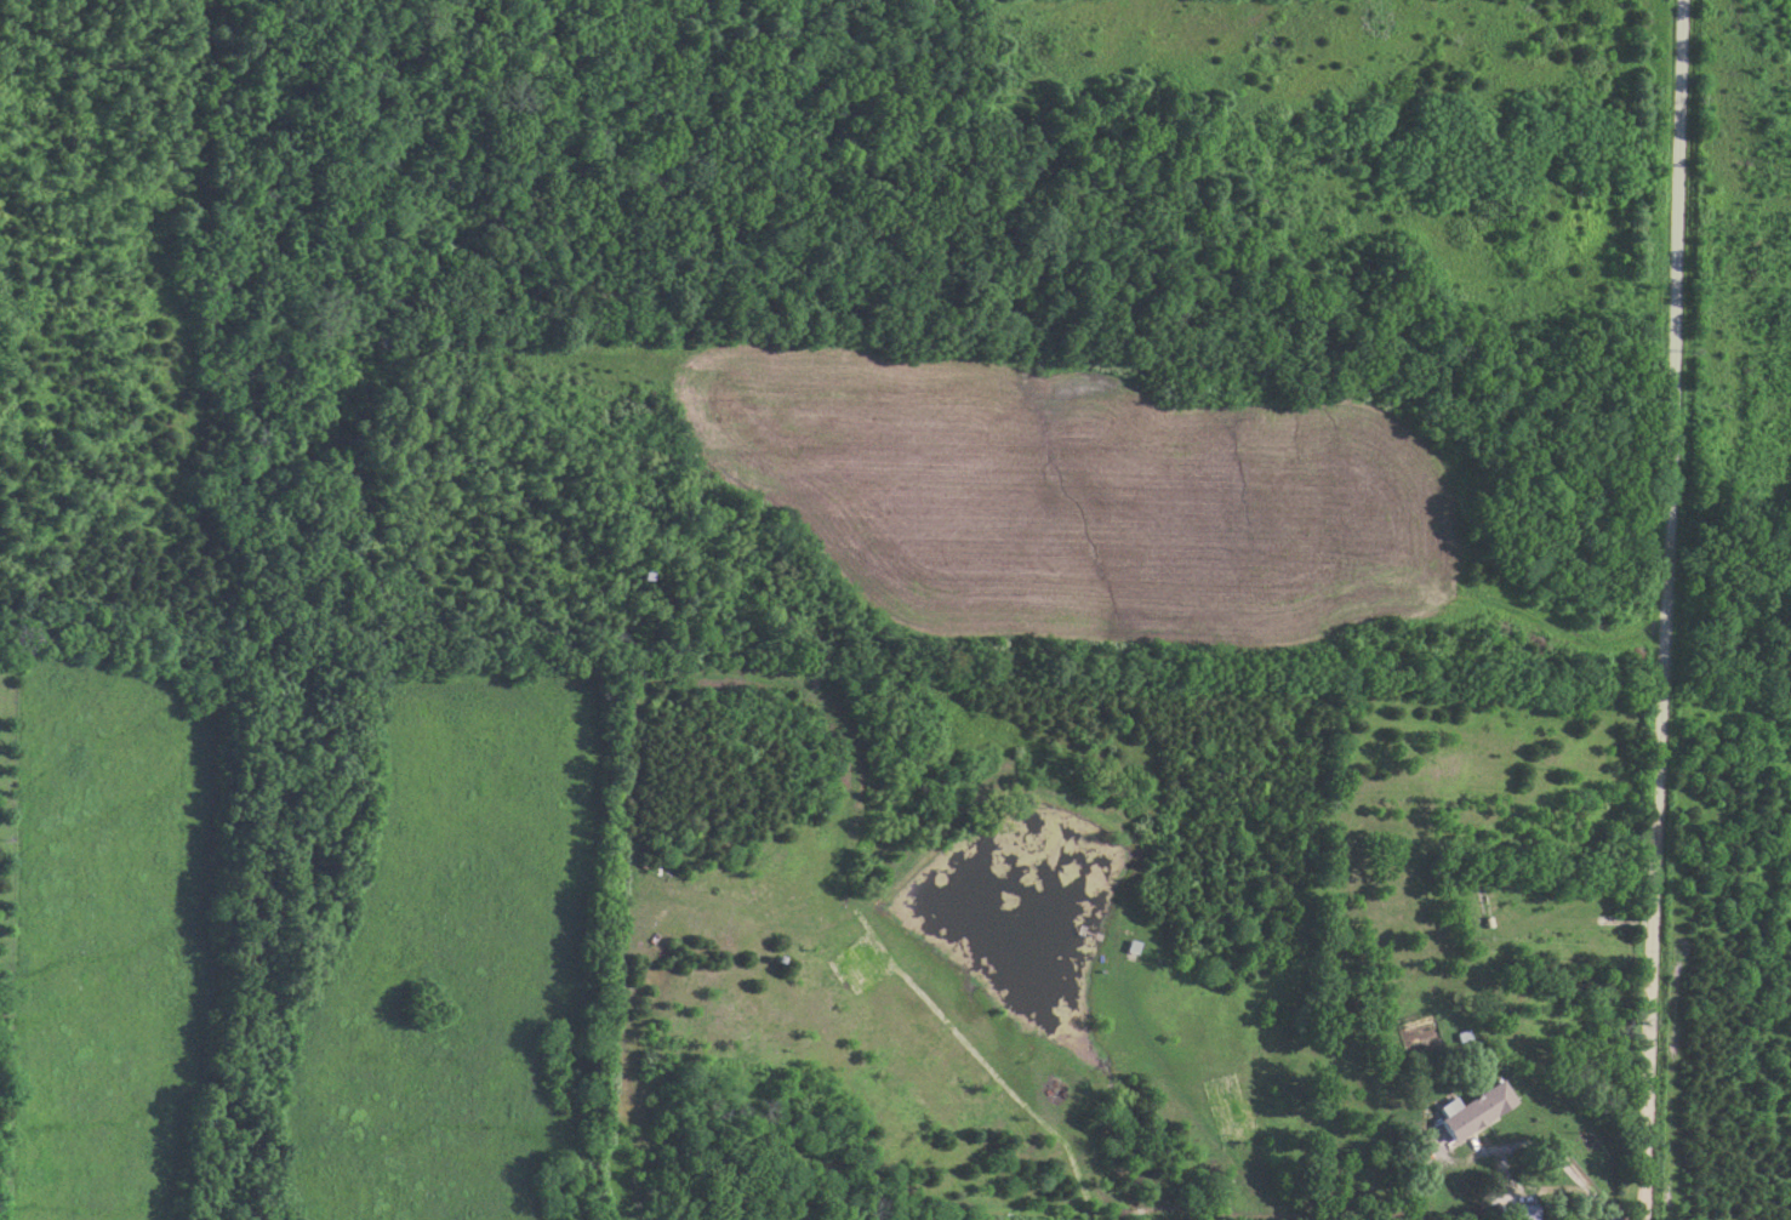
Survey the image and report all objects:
road: (1666, 610)
road: (1582, 918)
building: (1470, 1110)
road: (1553, 1147)
building: (1510, 1212)

